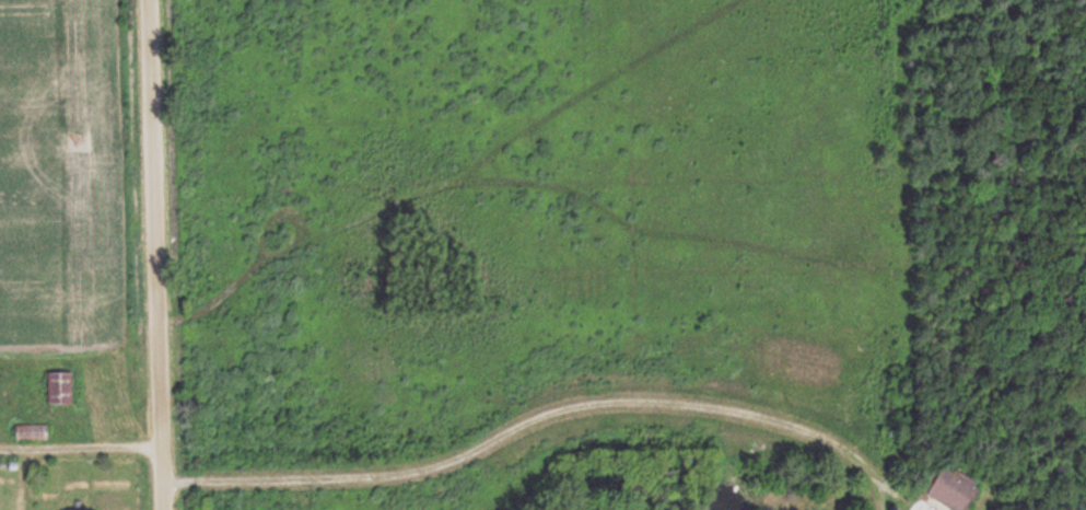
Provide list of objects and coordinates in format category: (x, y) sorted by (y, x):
road: (147, 255)
building: (63, 389)
building: (34, 433)
building: (957, 490)

